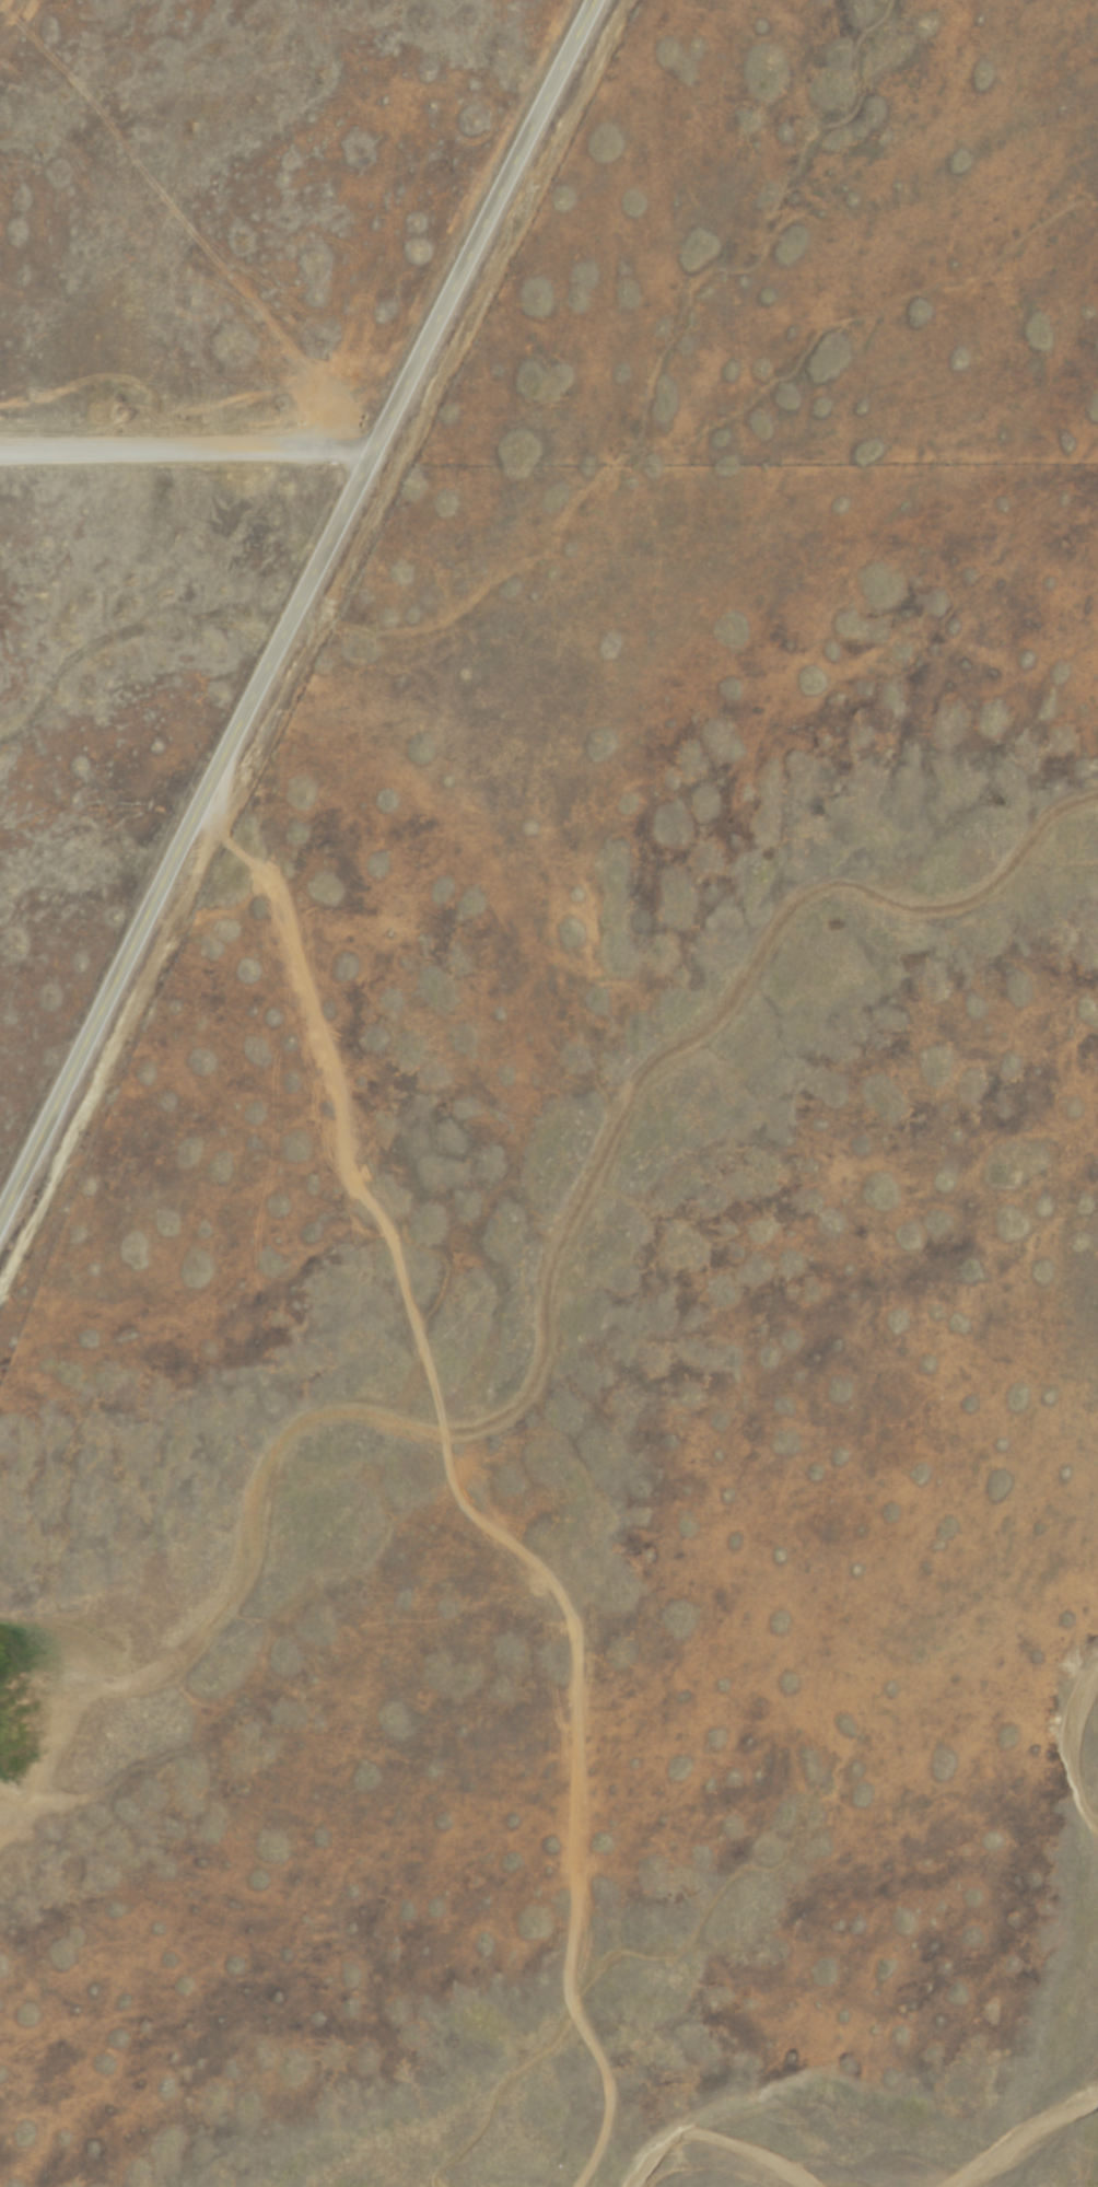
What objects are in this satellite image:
road: (183, 453)
road: (293, 604)
road: (456, 1492)

